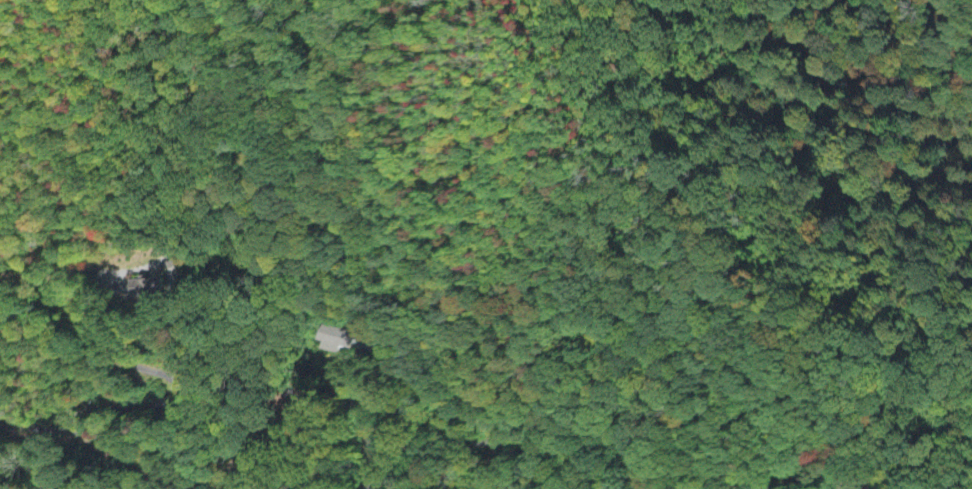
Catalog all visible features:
road: (133, 364)
road: (499, 409)
road: (309, 451)
road: (160, 466)

